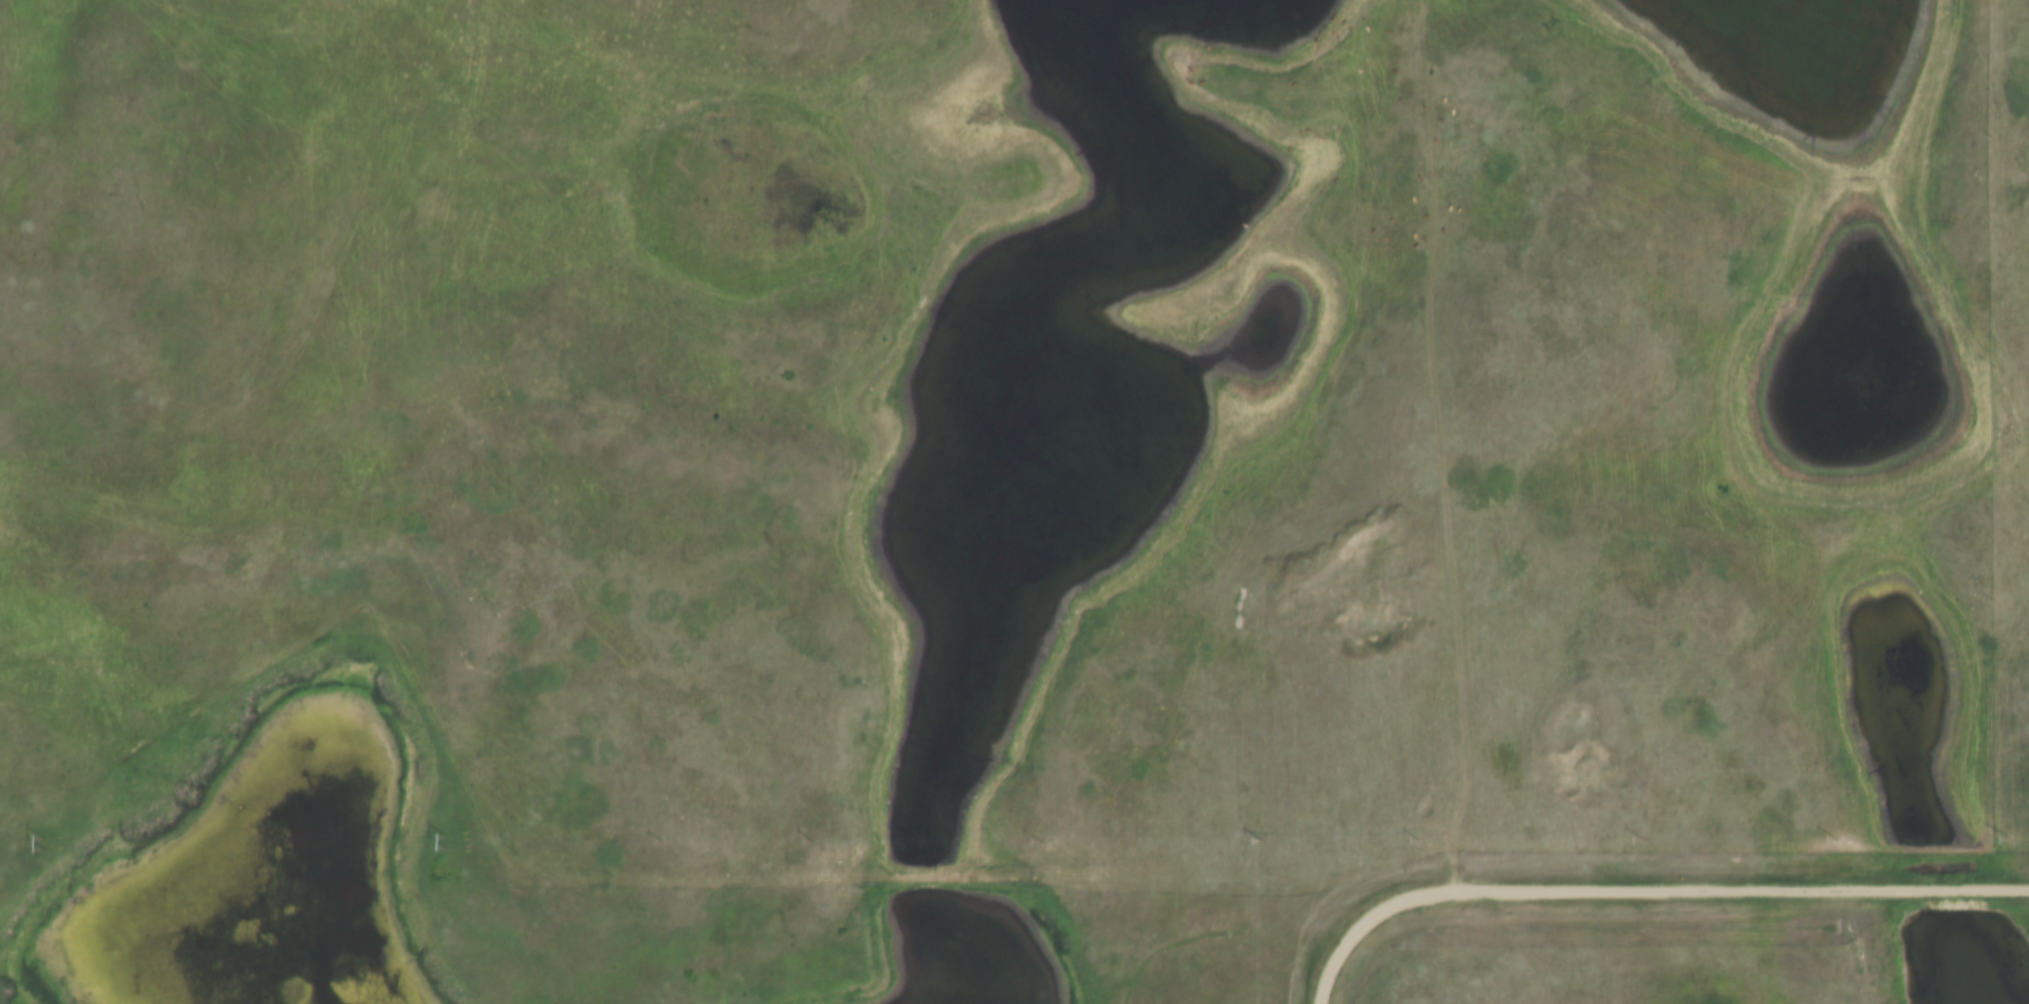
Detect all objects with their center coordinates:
road: (1437, 446)
road: (1742, 887)
road: (1366, 922)

